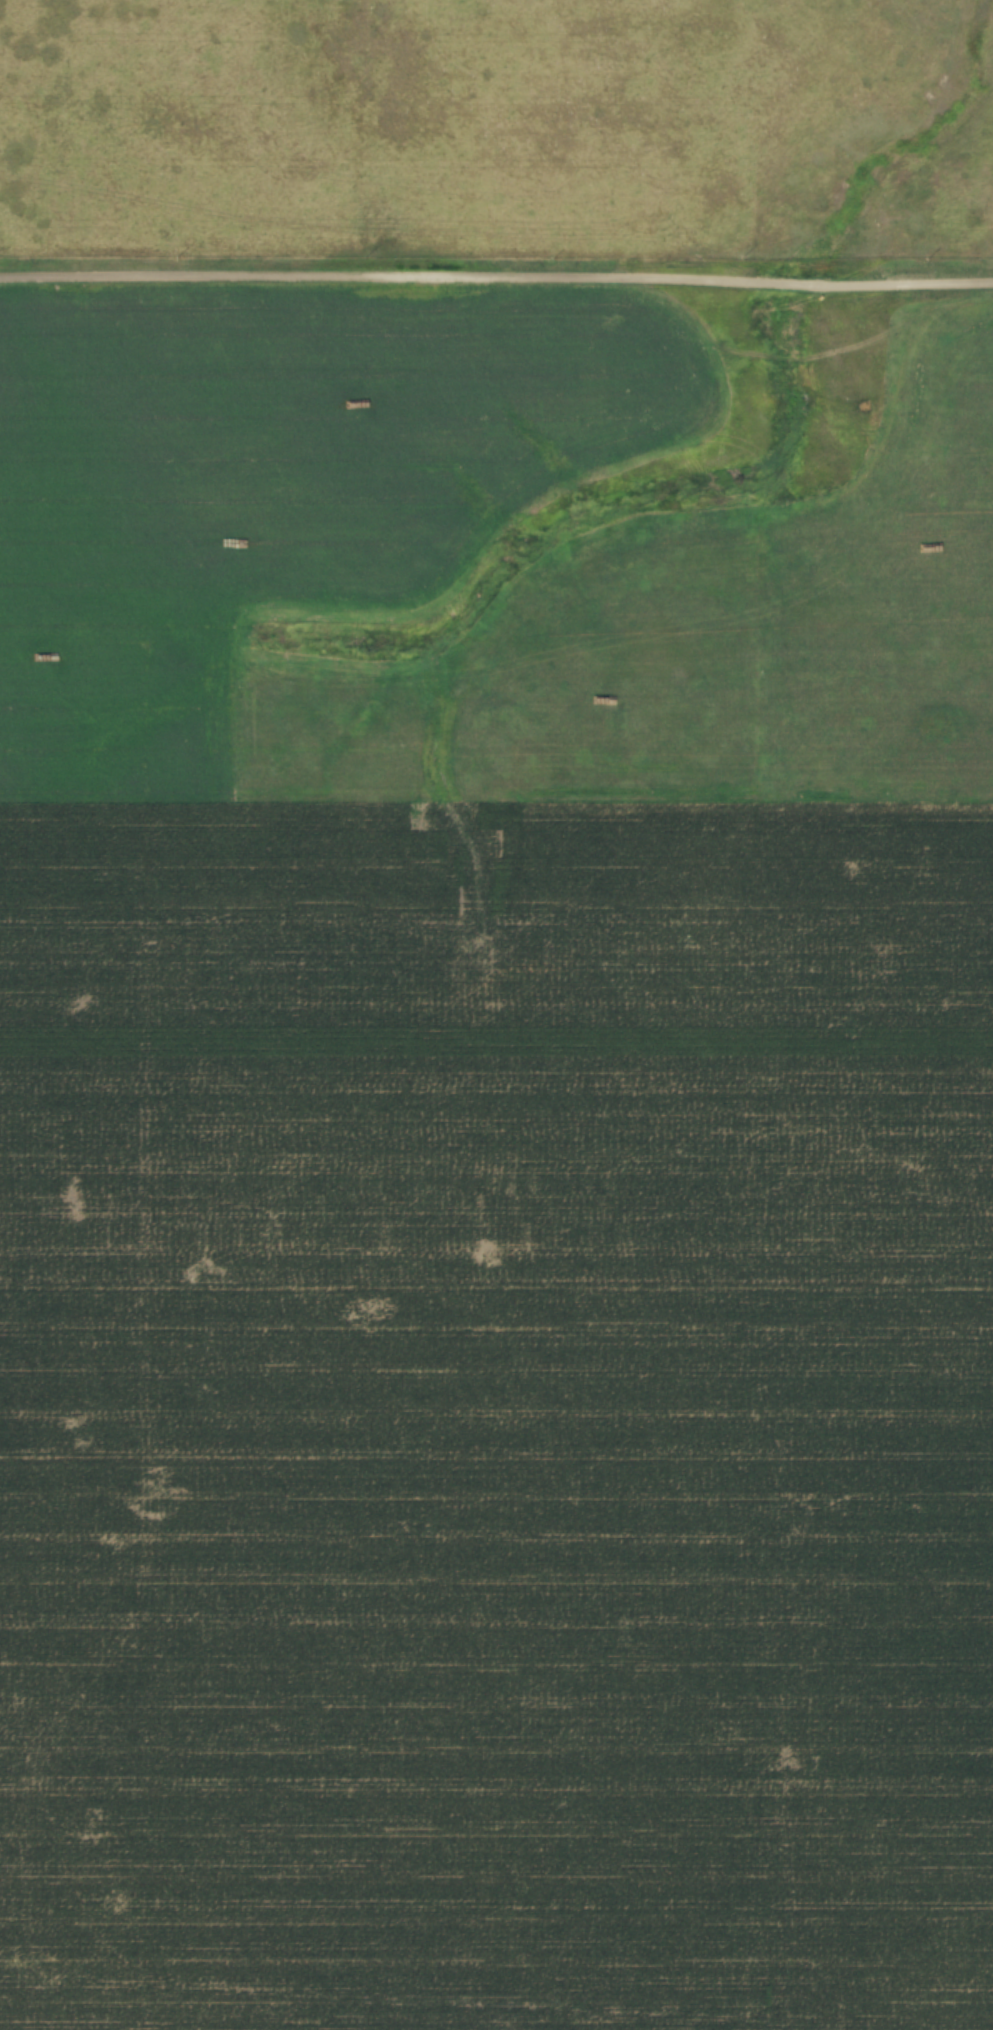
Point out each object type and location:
road: (496, 288)

